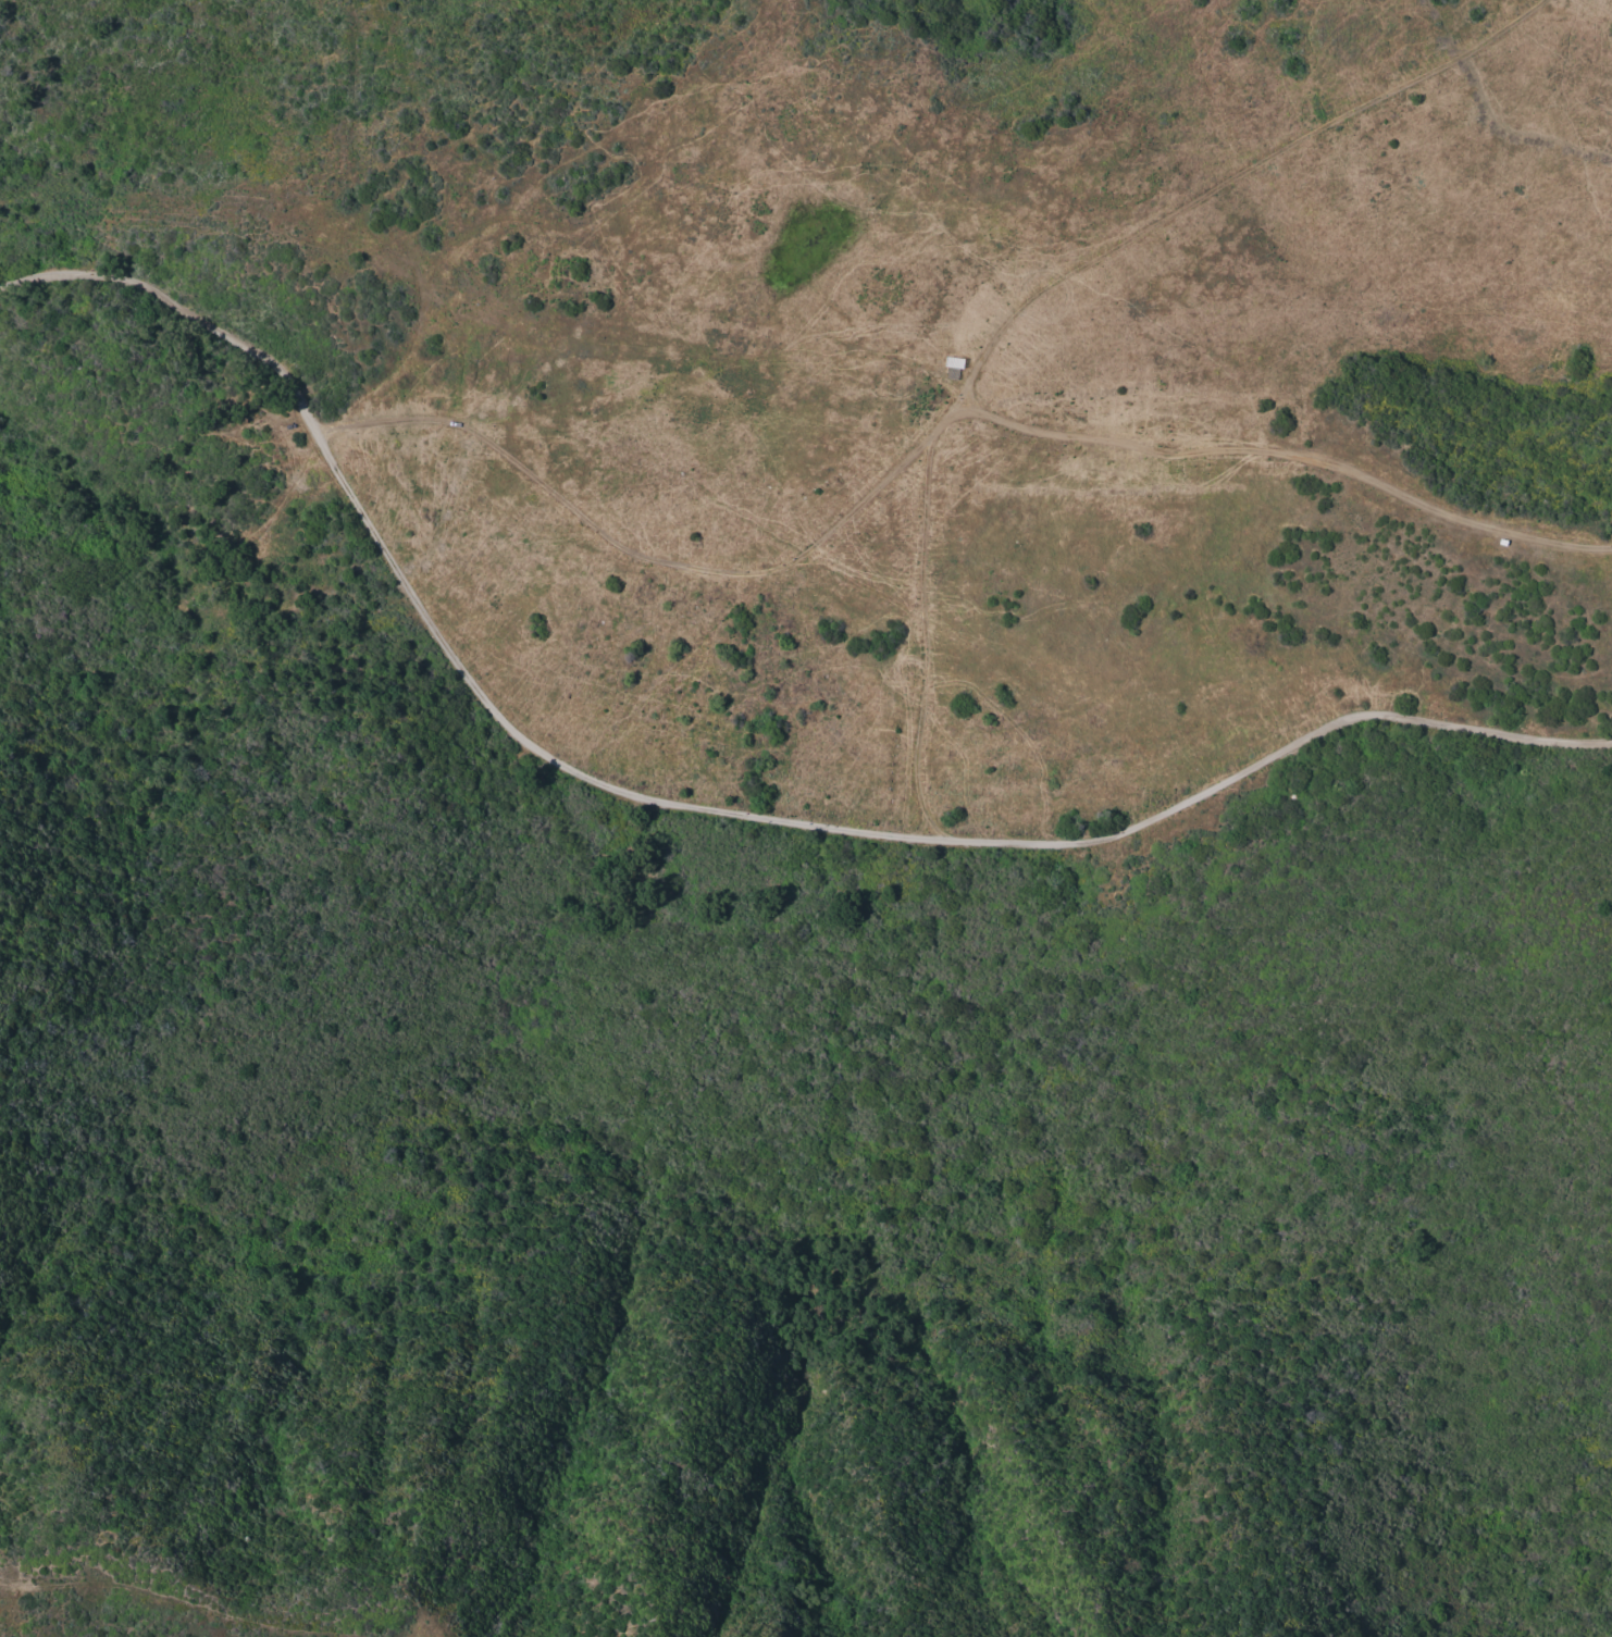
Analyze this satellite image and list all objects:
road: (177, 305)
road: (884, 834)

